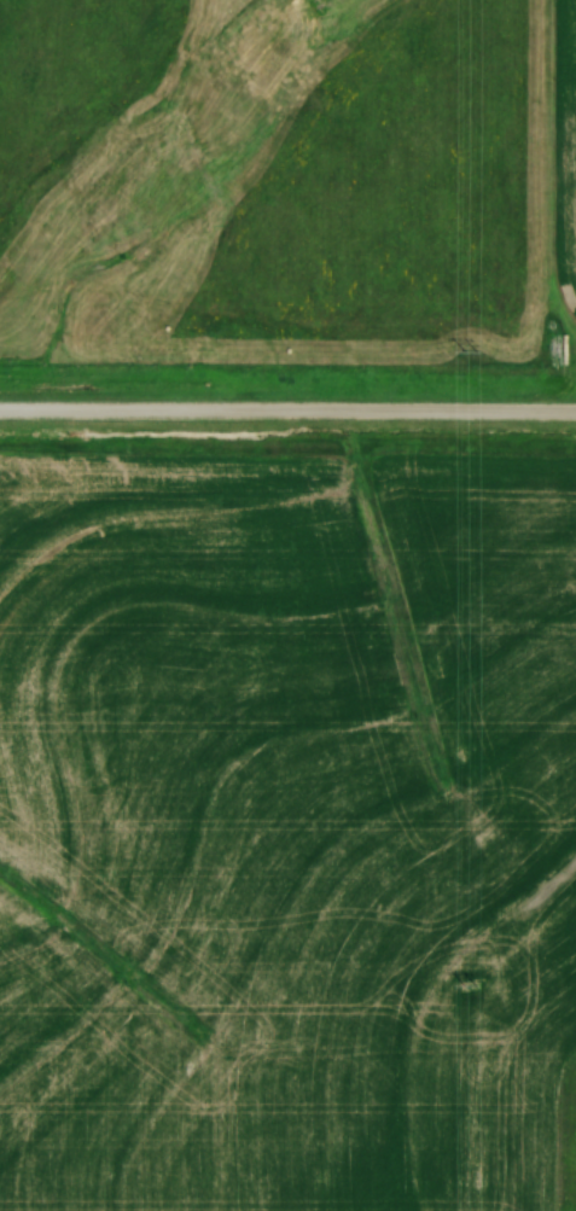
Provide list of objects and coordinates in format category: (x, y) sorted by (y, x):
power tower: (472, 350)
road: (287, 407)
power tower: (471, 983)

